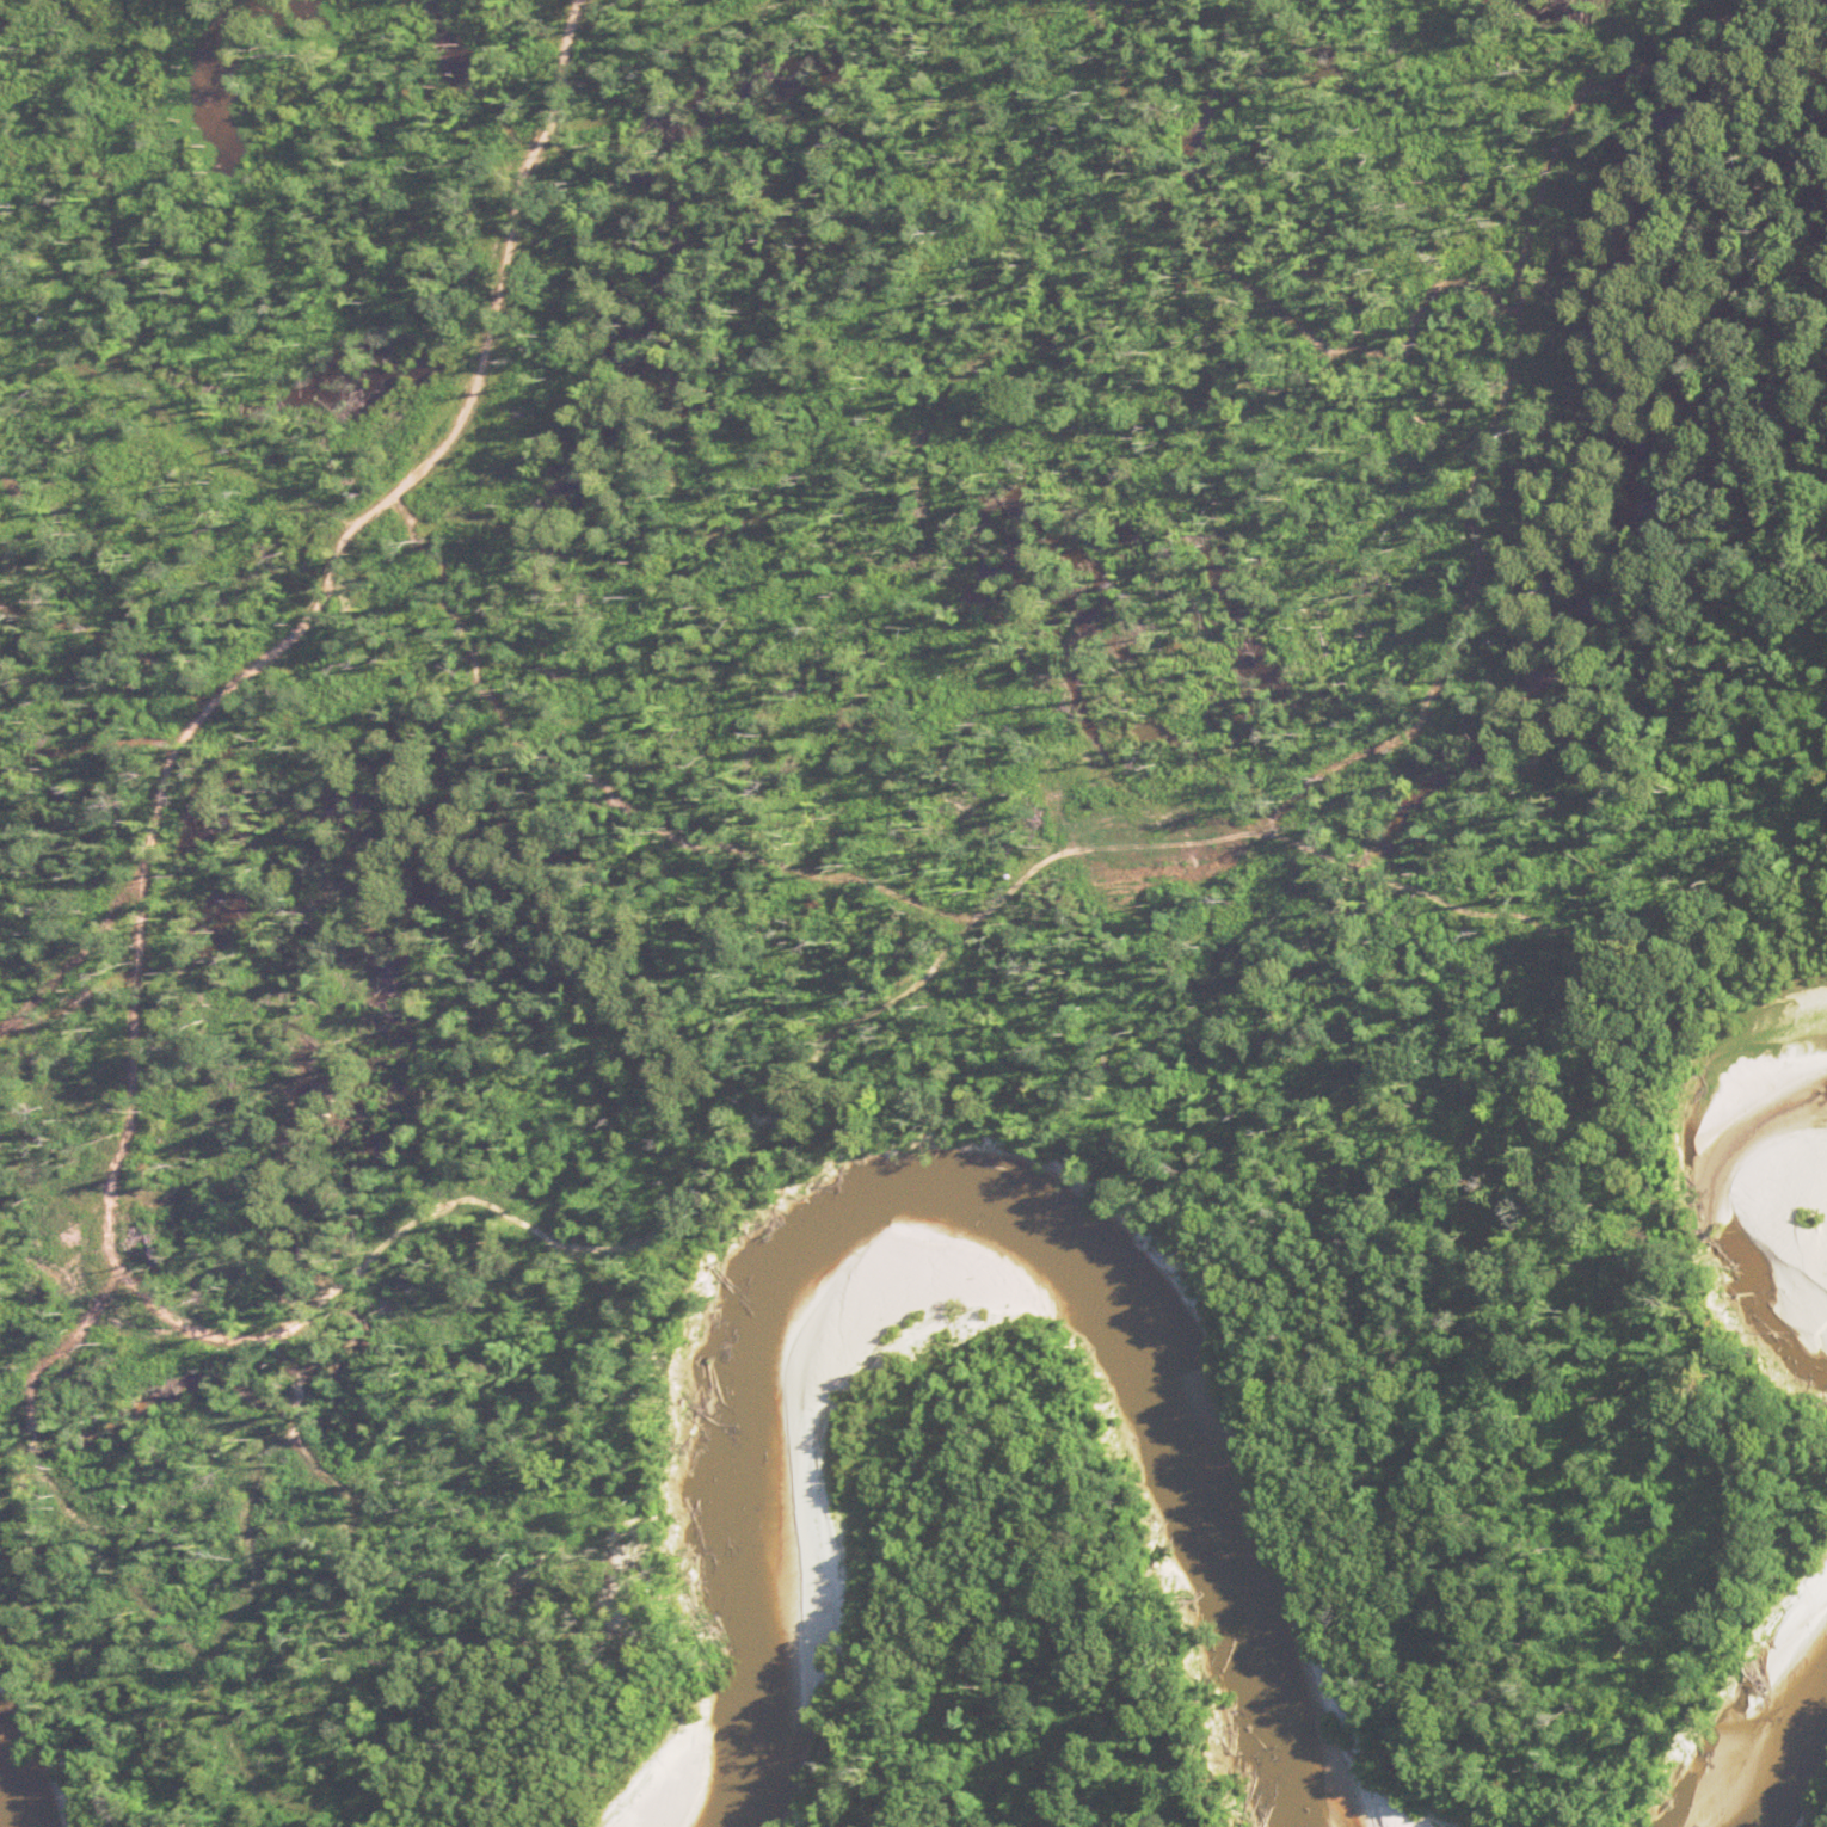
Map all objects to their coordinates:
river: (1802, 1076)
river: (1003, 1262)
river: (1796, 1766)
river: (23, 1808)

